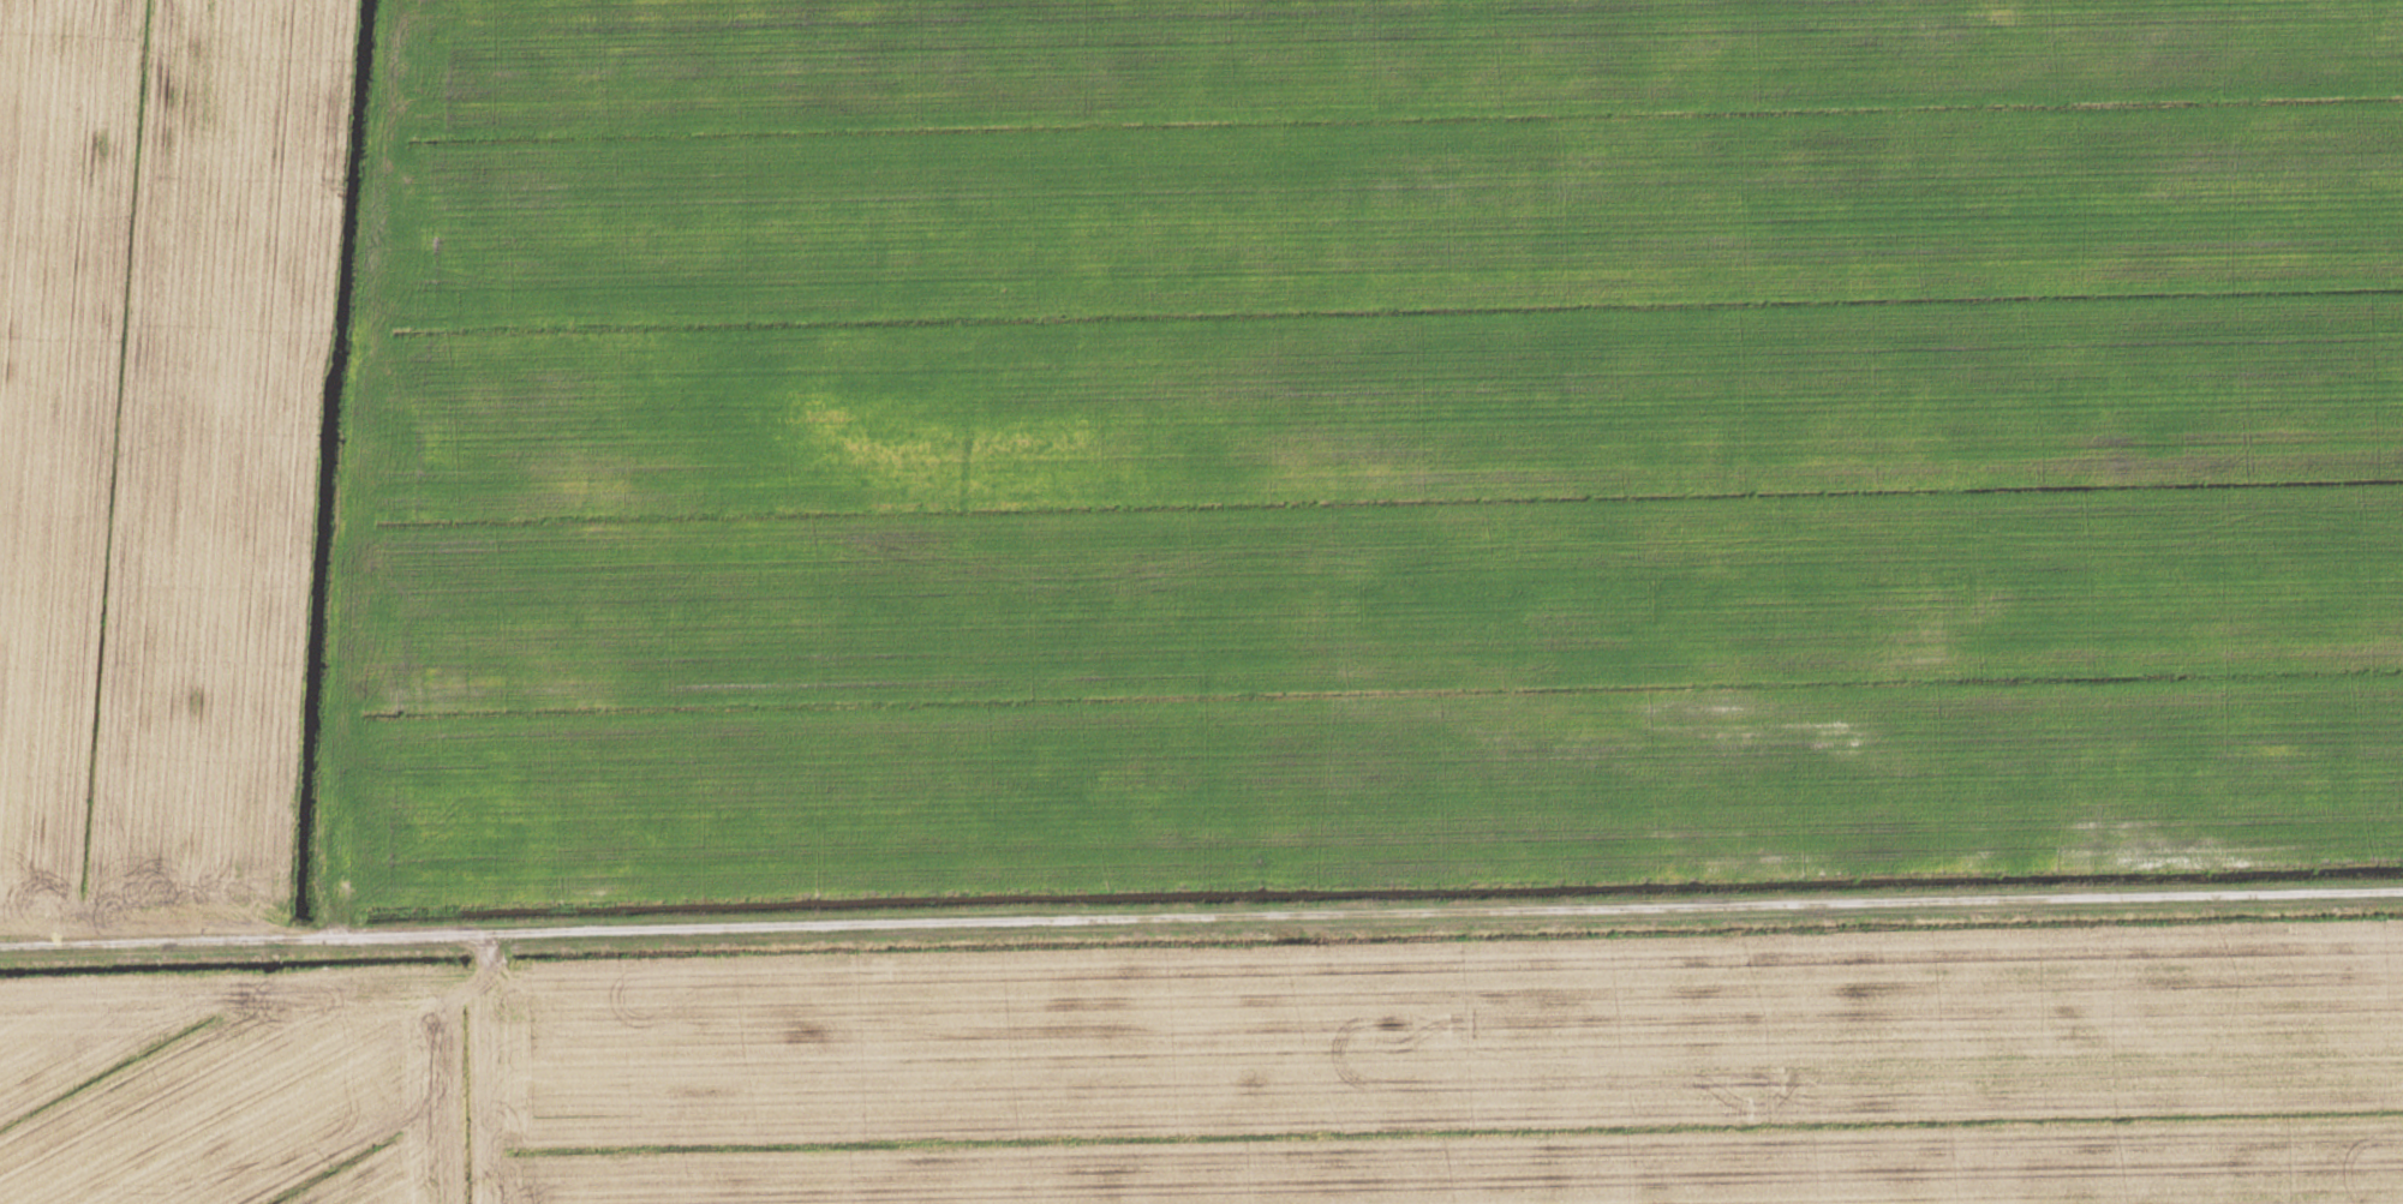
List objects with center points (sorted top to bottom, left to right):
road: (1201, 926)
crop: (1247, 1073)

